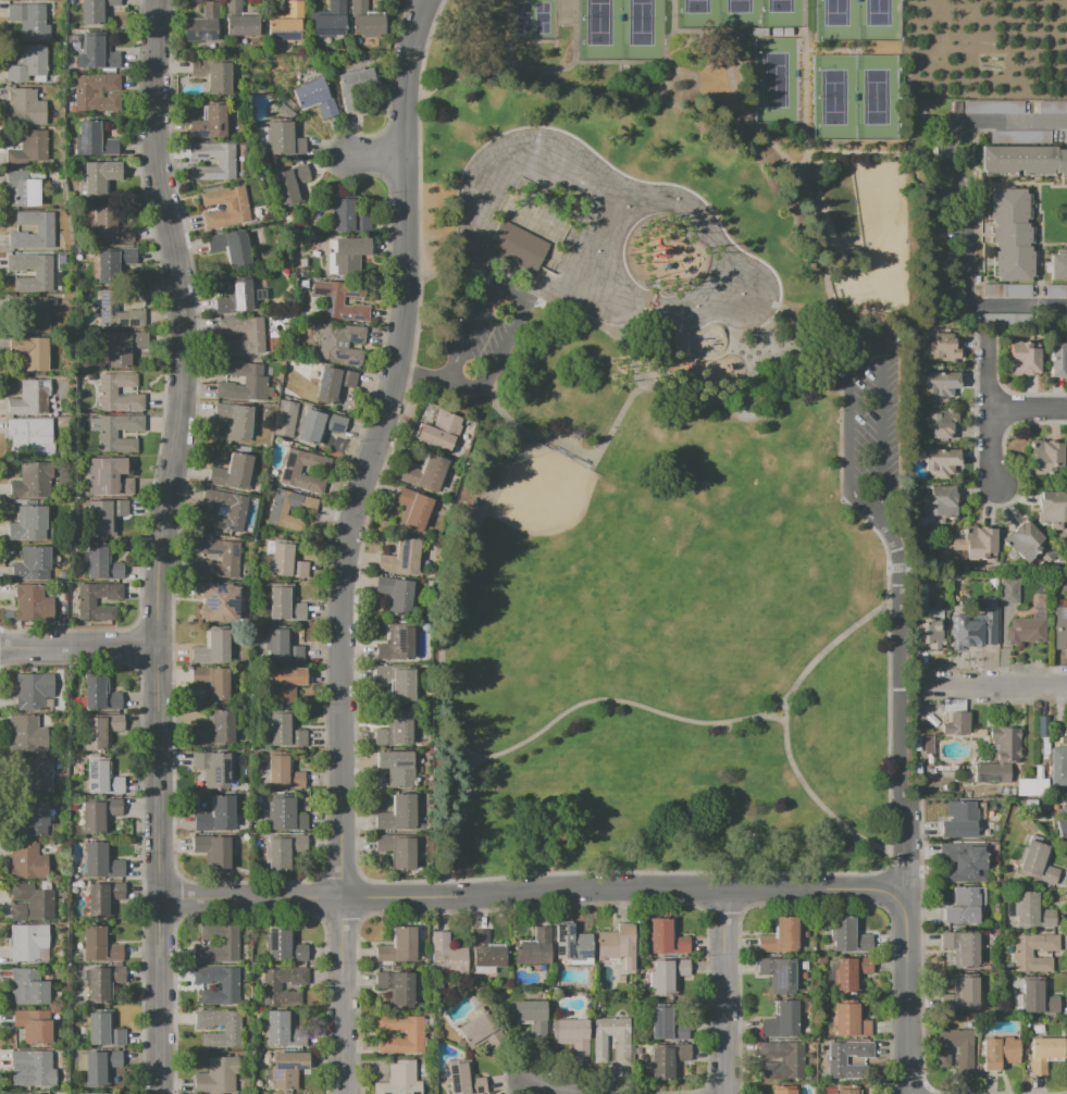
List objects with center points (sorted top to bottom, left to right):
building: (94, 10)
park: (739, 10)
park: (780, 10)
park: (697, 11)
park: (533, 16)
building: (367, 20)
park: (835, 20)
park: (874, 20)
building: (29, 21)
building: (239, 21)
building: (330, 21)
building: (203, 24)
building: (287, 24)
park: (640, 25)
park: (600, 26)
road: (534, 42)
building: (96, 53)
road: (511, 54)
building: (27, 63)
road: (635, 63)
road: (520, 66)
building: (212, 75)
park: (774, 78)
building: (352, 87)
building: (96, 92)
park: (834, 92)
park: (876, 94)
building: (313, 99)
building: (25, 107)
building: (991, 107)
building: (1051, 107)
road: (806, 121)
building: (209, 123)
building: (95, 139)
building: (284, 139)
road: (768, 140)
building: (27, 149)
road: (374, 156)
building: (1023, 160)
building: (225, 163)
road: (806, 163)
building: (98, 177)
building: (289, 183)
building: (24, 186)
road: (959, 202)
building: (237, 208)
building: (349, 217)
building: (110, 227)
building: (44, 228)
building: (1010, 234)
building: (518, 246)
building: (231, 248)
building: (346, 254)
building: (113, 262)
building: (1058, 265)
building: (41, 274)
road: (441, 275)
building: (1005, 289)
building: (1055, 289)
road: (522, 297)
building: (234, 298)
building: (340, 300)
building: (108, 307)
building: (34, 313)
road: (182, 322)
road: (860, 322)
road: (599, 325)
parking lot: (484, 331)
building: (253, 338)
building: (340, 343)
building: (123, 347)
building: (942, 347)
building: (30, 352)
building: (1022, 359)
building: (1058, 361)
road: (419, 375)
building: (243, 383)
building: (333, 384)
building: (940, 385)
building: (117, 394)
road: (662, 394)
building: (29, 397)
road: (1030, 409)
road: (994, 411)
parking lot: (870, 413)
building: (285, 419)
building: (234, 421)
building: (941, 423)
building: (319, 424)
building: (438, 431)
building: (108, 435)
building: (30, 436)
park: (671, 438)
building: (1044, 456)
building: (941, 462)
building: (290, 469)
building: (234, 473)
building: (424, 473)
building: (107, 476)
building: (32, 480)
building: (939, 502)
building: (223, 509)
building: (277, 509)
building: (412, 509)
building: (1052, 509)
building: (104, 514)
park: (556, 517)
building: (28, 523)
road: (948, 535)
road: (346, 542)
building: (1021, 542)
building: (976, 543)
building: (228, 557)
building: (401, 558)
building: (286, 560)
building: (32, 564)
building: (101, 564)
road: (894, 570)
road: (889, 576)
building: (1008, 594)
building: (395, 595)
road: (899, 595)
building: (216, 600)
building: (32, 602)
building: (86, 604)
building: (284, 604)
building: (1059, 629)
building: (1025, 631)
building: (971, 632)
building: (928, 634)
building: (397, 643)
road: (78, 646)
building: (282, 647)
building: (211, 648)
road: (823, 652)
road: (907, 681)
building: (396, 682)
road: (990, 682)
building: (212, 683)
building: (285, 684)
building: (32, 691)
building: (98, 695)
road: (776, 709)
building: (956, 723)
building: (1042, 726)
building: (215, 729)
building: (395, 730)
building: (99, 731)
building: (285, 731)
building: (27, 734)
building: (1065, 735)
road: (529, 739)
road: (902, 739)
building: (928, 744)
building: (1000, 756)
building: (1058, 766)
building: (212, 768)
building: (396, 768)
building: (283, 773)
building: (36, 776)
building: (102, 779)
building: (397, 813)
building: (98, 815)
building: (215, 815)
building: (285, 815)
building: (34, 819)
building: (958, 820)
building: (1062, 830)
road: (457, 831)
building: (397, 850)
road: (913, 850)
building: (212, 851)
building: (284, 851)
building: (100, 860)
building: (26, 861)
building: (963, 861)
building: (1038, 862)
road: (160, 869)
road: (532, 892)
building: (102, 898)
building: (30, 903)
building: (964, 905)
building: (1028, 910)
building: (848, 935)
building: (780, 936)
building: (666, 937)
building: (27, 941)
building: (228, 942)
building: (572, 944)
building: (98, 945)
building: (284, 945)
building: (617, 945)
building: (397, 946)
road: (905, 946)
building: (533, 947)
road: (921, 947)
building: (961, 948)
building: (487, 950)
building: (1021, 955)
building: (447, 956)
building: (779, 970)
building: (851, 973)
building: (668, 975)
building: (103, 982)
building: (228, 986)
building: (27, 987)
building: (271, 987)
building: (397, 987)
road: (725, 992)
building: (961, 993)
building: (1038, 997)
building: (529, 1016)
building: (780, 1019)
building: (848, 1020)
building: (34, 1025)
building: (666, 1025)
building: (103, 1028)
building: (231, 1030)
building: (283, 1030)
building: (480, 1031)
building: (413, 1033)
building: (570, 1034)
building: (621, 1040)
building: (965, 1052)
building: (998, 1052)
building: (1044, 1053)
building: (781, 1059)
building: (667, 1060)
building: (836, 1060)
building: (35, 1067)
building: (100, 1067)
building: (286, 1069)
building: (216, 1074)
building: (399, 1079)
building: (463, 1079)
road: (916, 1079)
road: (551, 1090)
building: (784, 1091)
building: (845, 1091)
building: (34, 1093)
building: (97, 1093)
road: (940, 1093)
road: (997, 1093)

